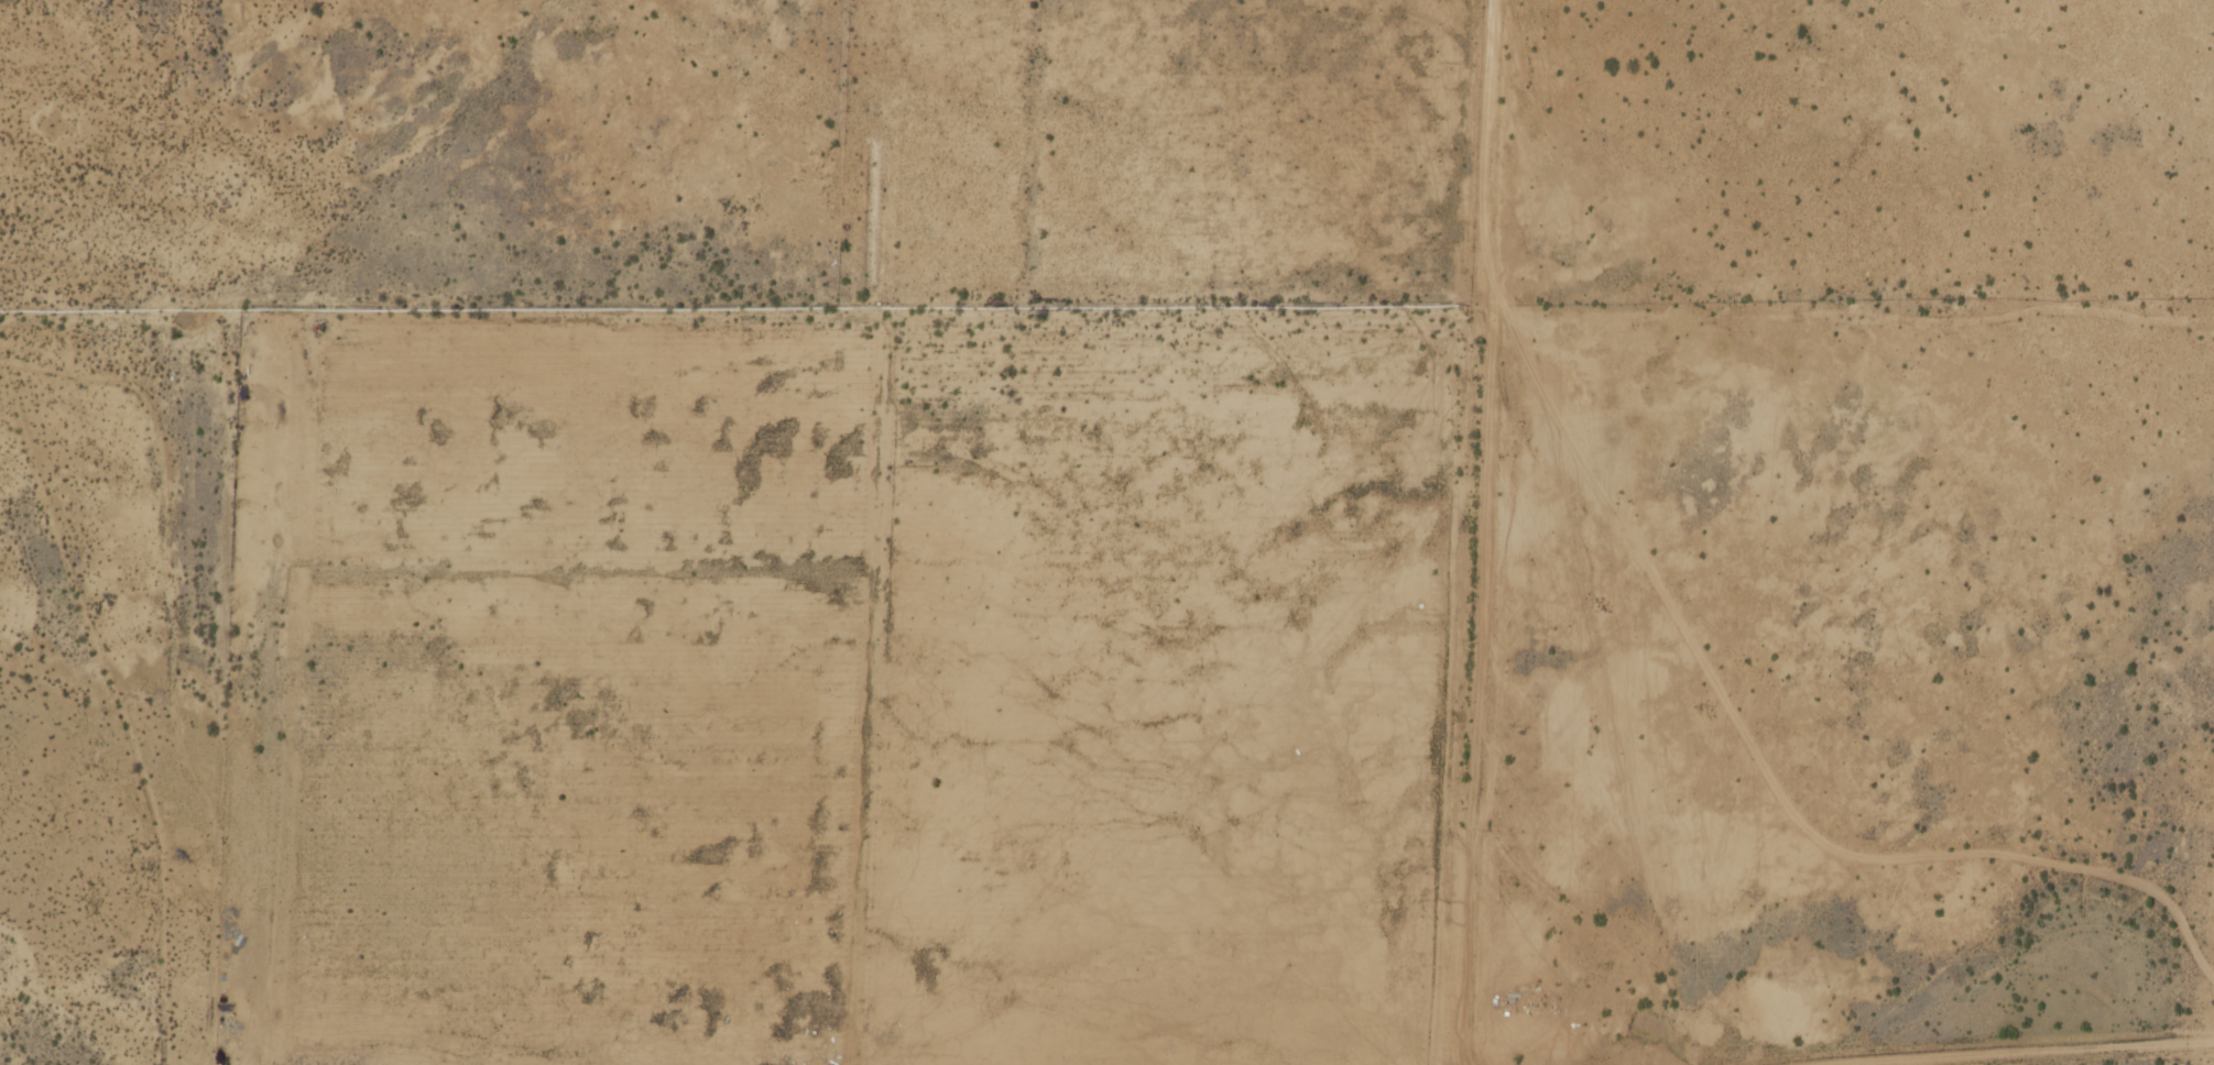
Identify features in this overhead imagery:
road: (2022, 1052)

